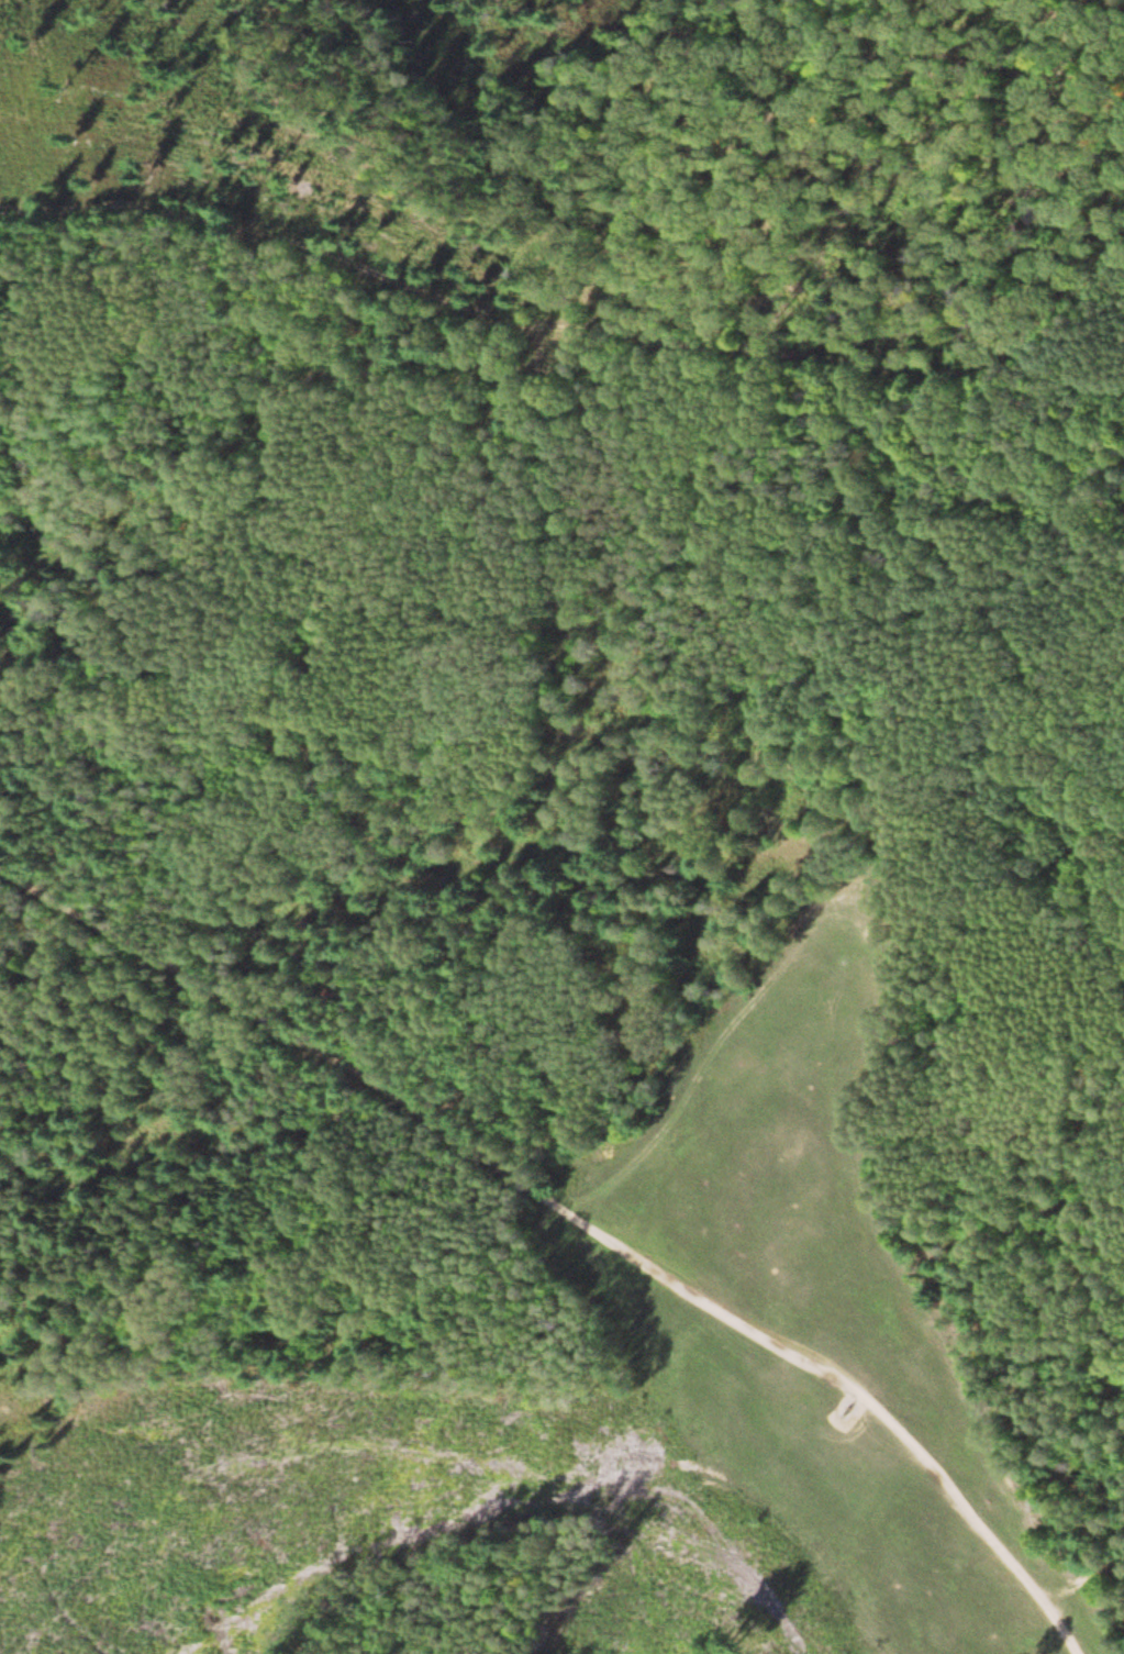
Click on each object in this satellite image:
road: (110, 211)
road: (704, 225)
road: (560, 322)
road: (575, 1222)

